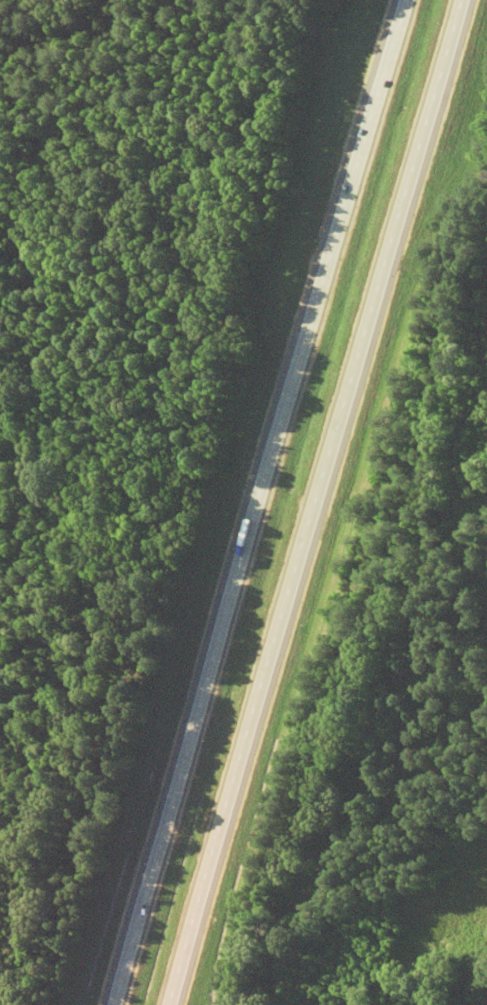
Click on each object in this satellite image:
road: (249, 502)
road: (305, 502)

